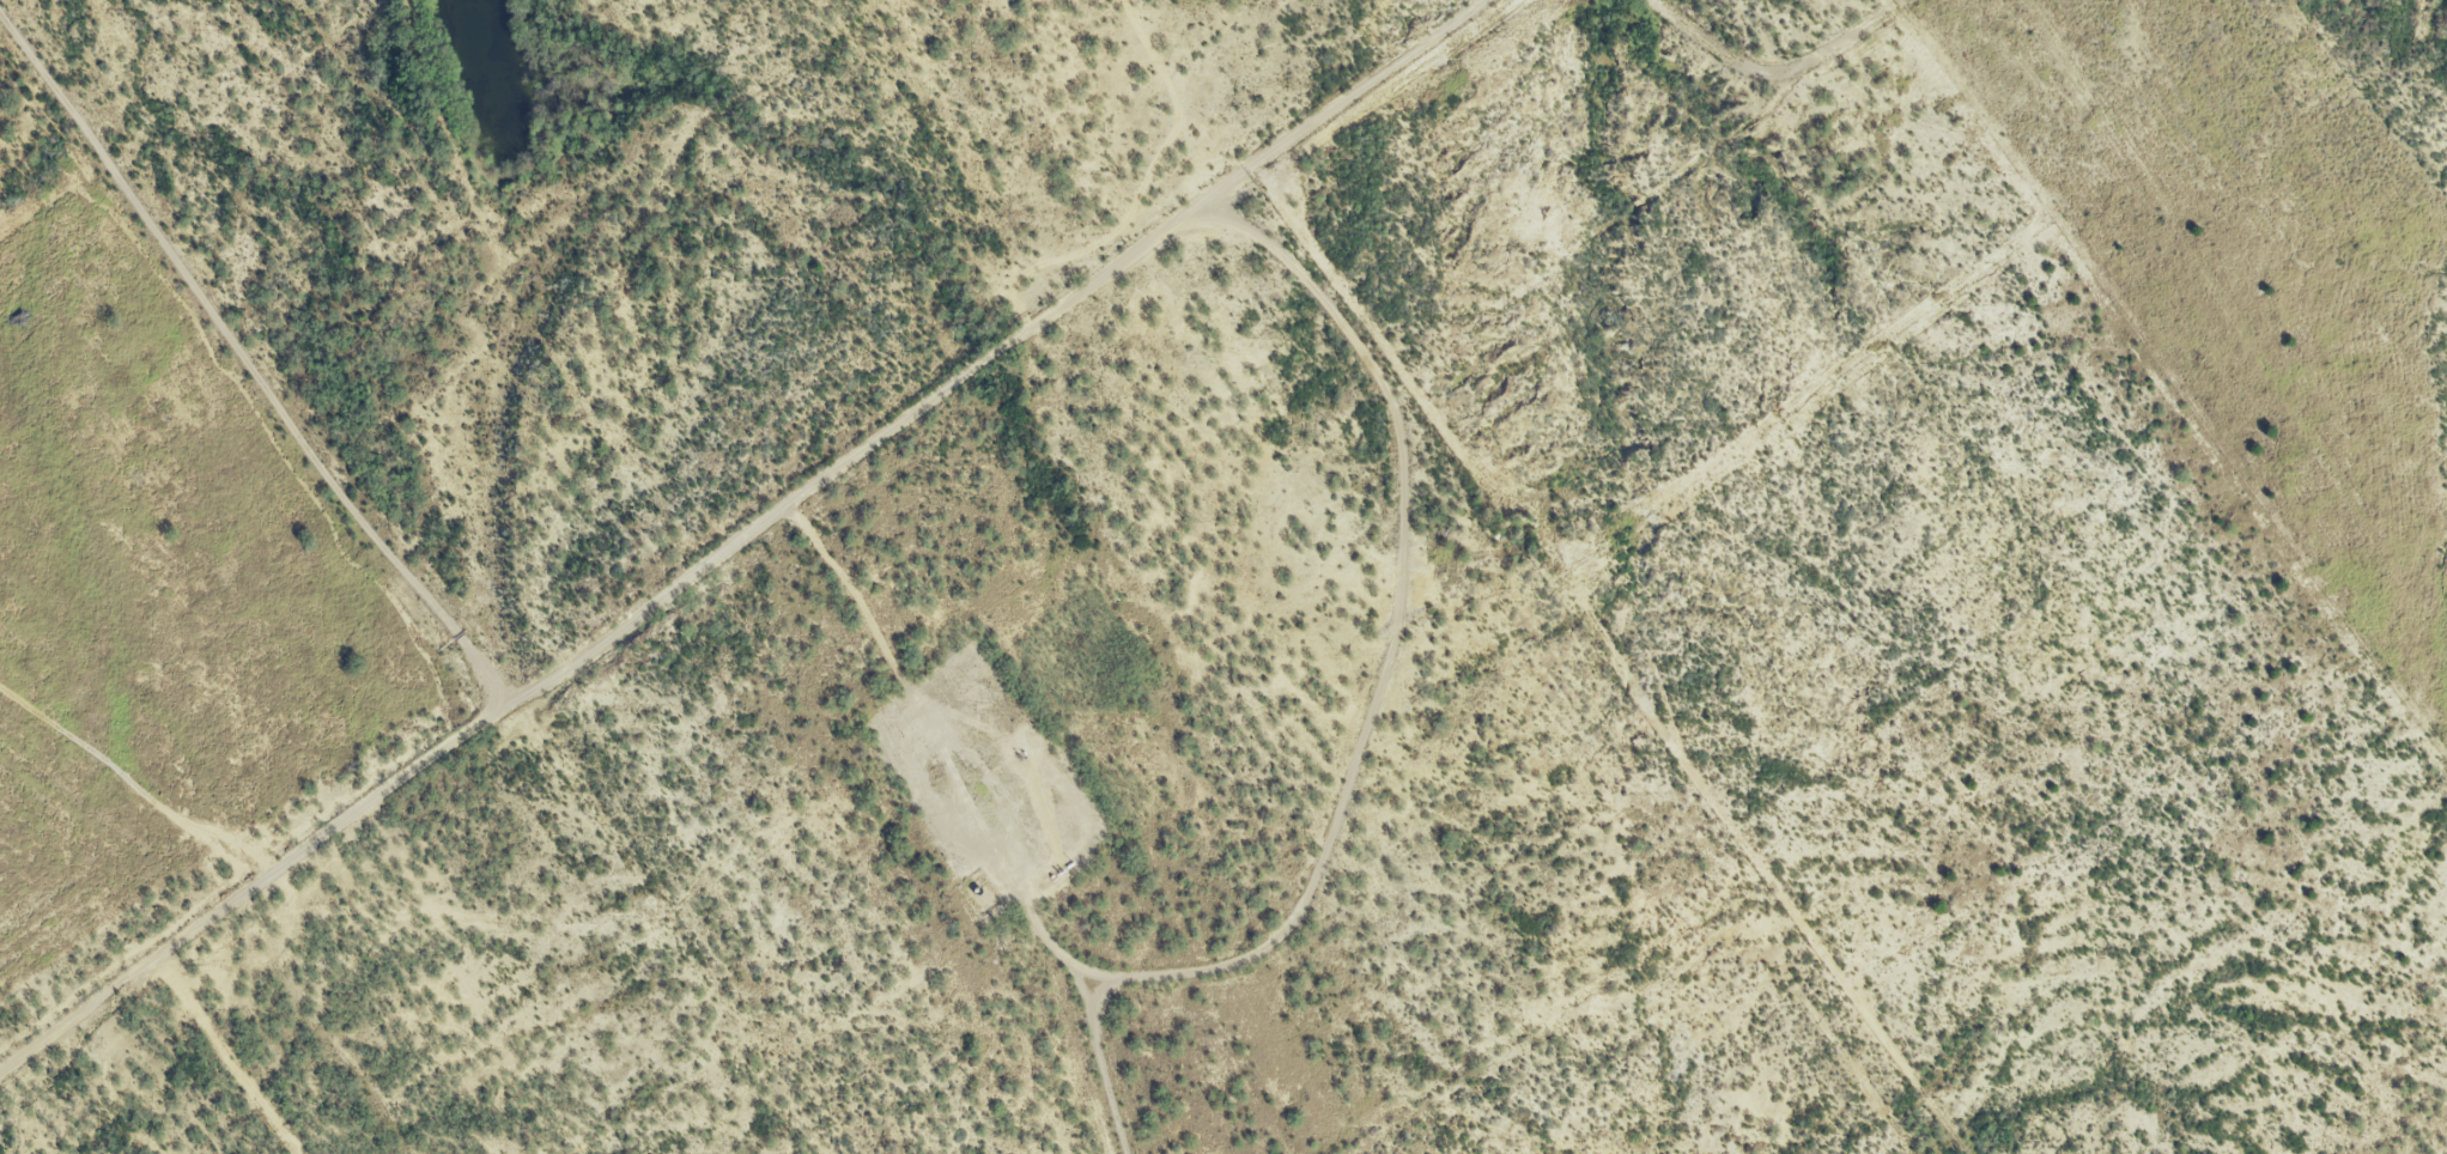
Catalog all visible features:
road: (1206, 235)
road: (529, 666)

